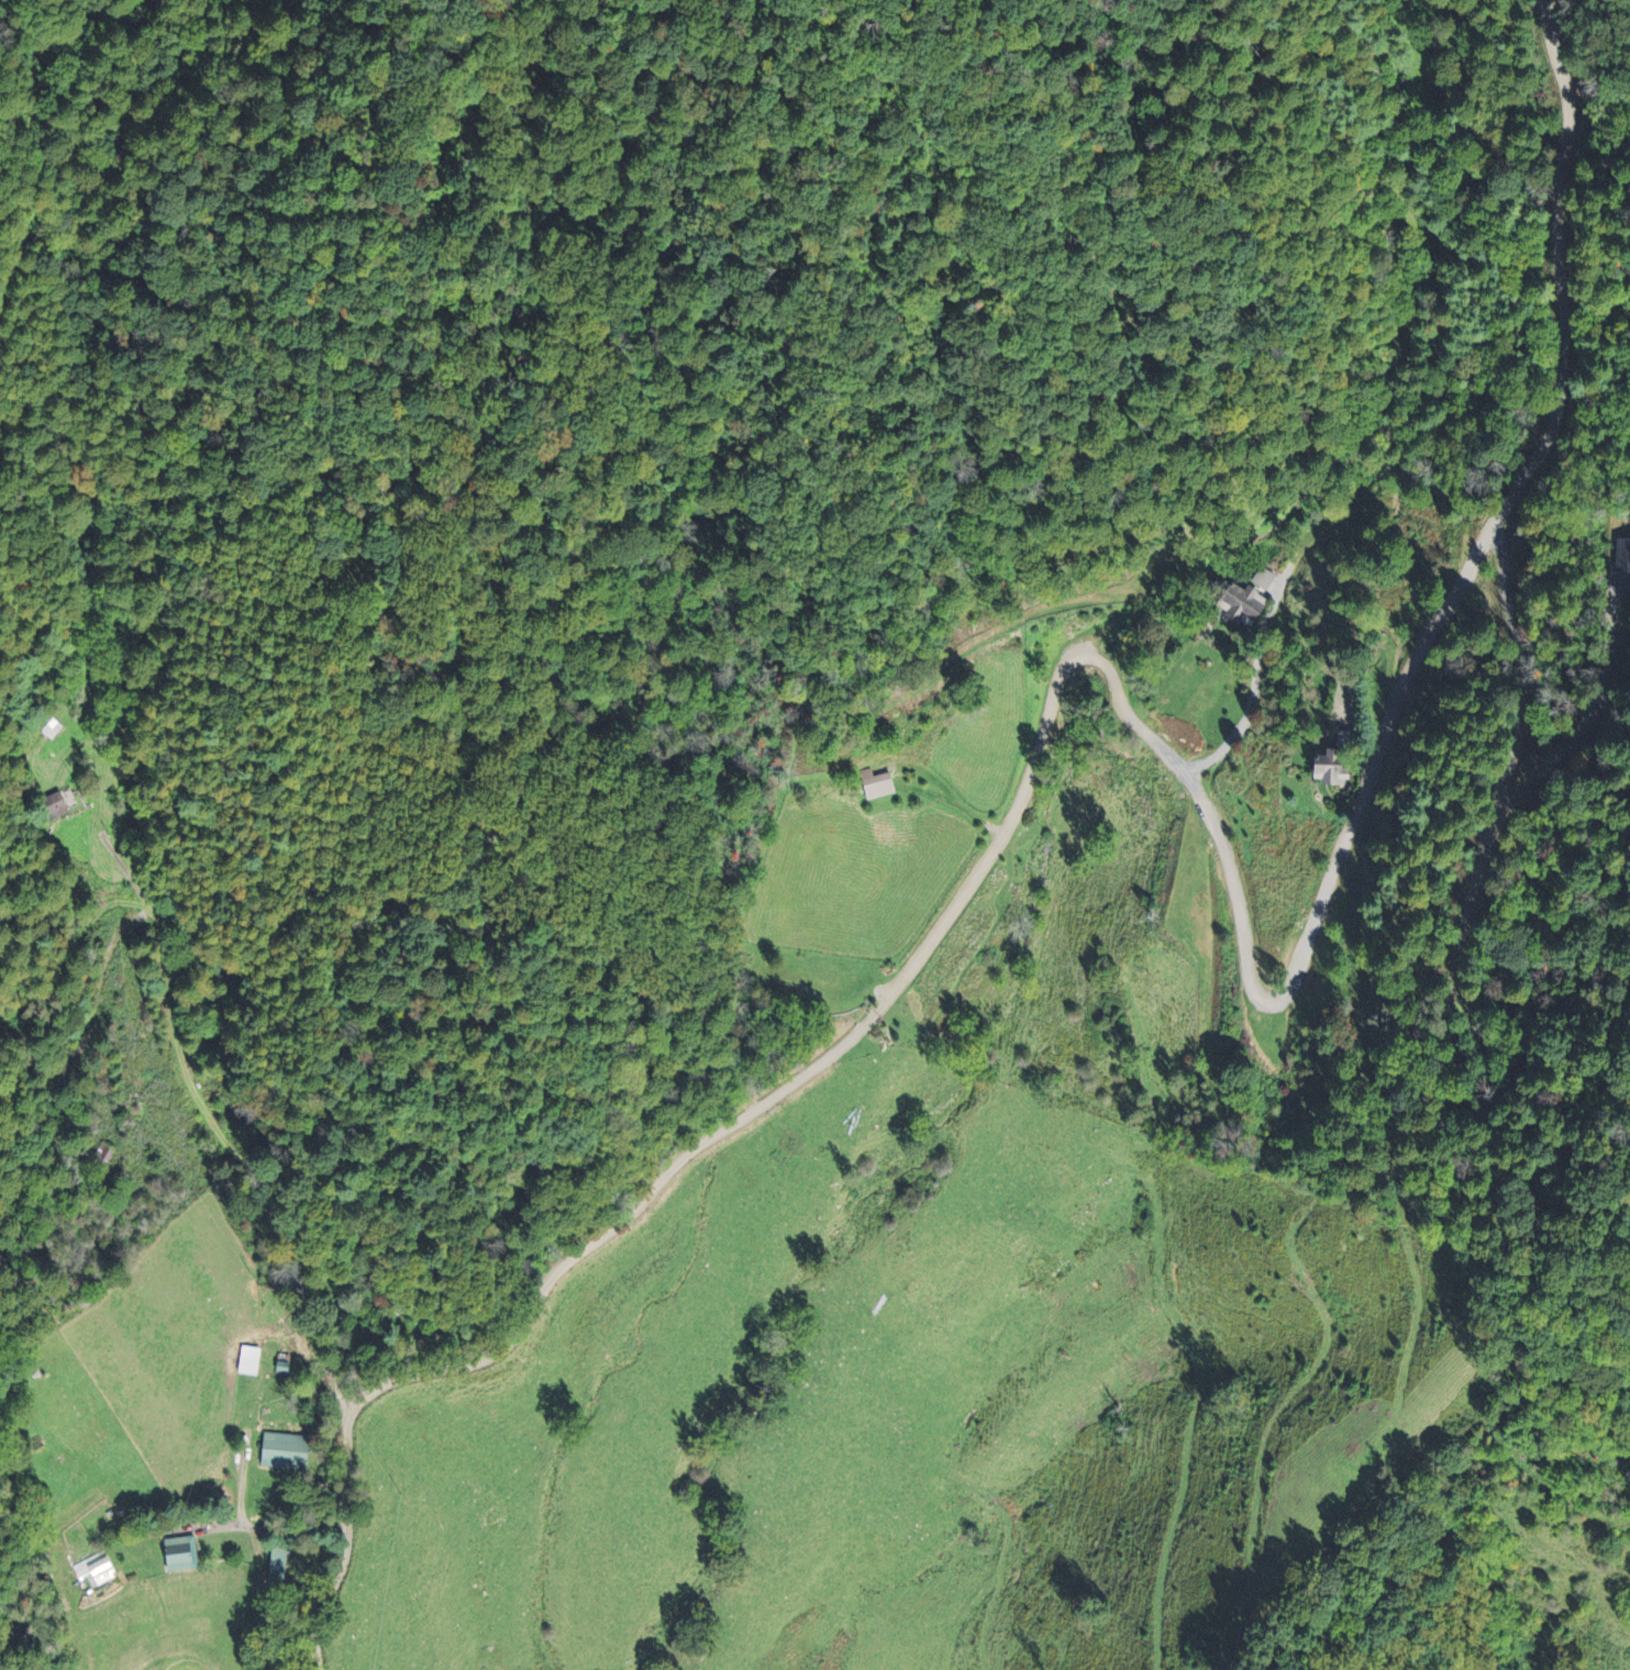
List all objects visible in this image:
building: (1262, 579)
building: (1239, 604)
road: (1124, 704)
building: (1335, 761)
building: (876, 784)
building: (56, 805)
building: (247, 1360)
building: (282, 1451)
road: (286, 1529)
building: (179, 1554)
building: (277, 1565)
building: (95, 1569)

